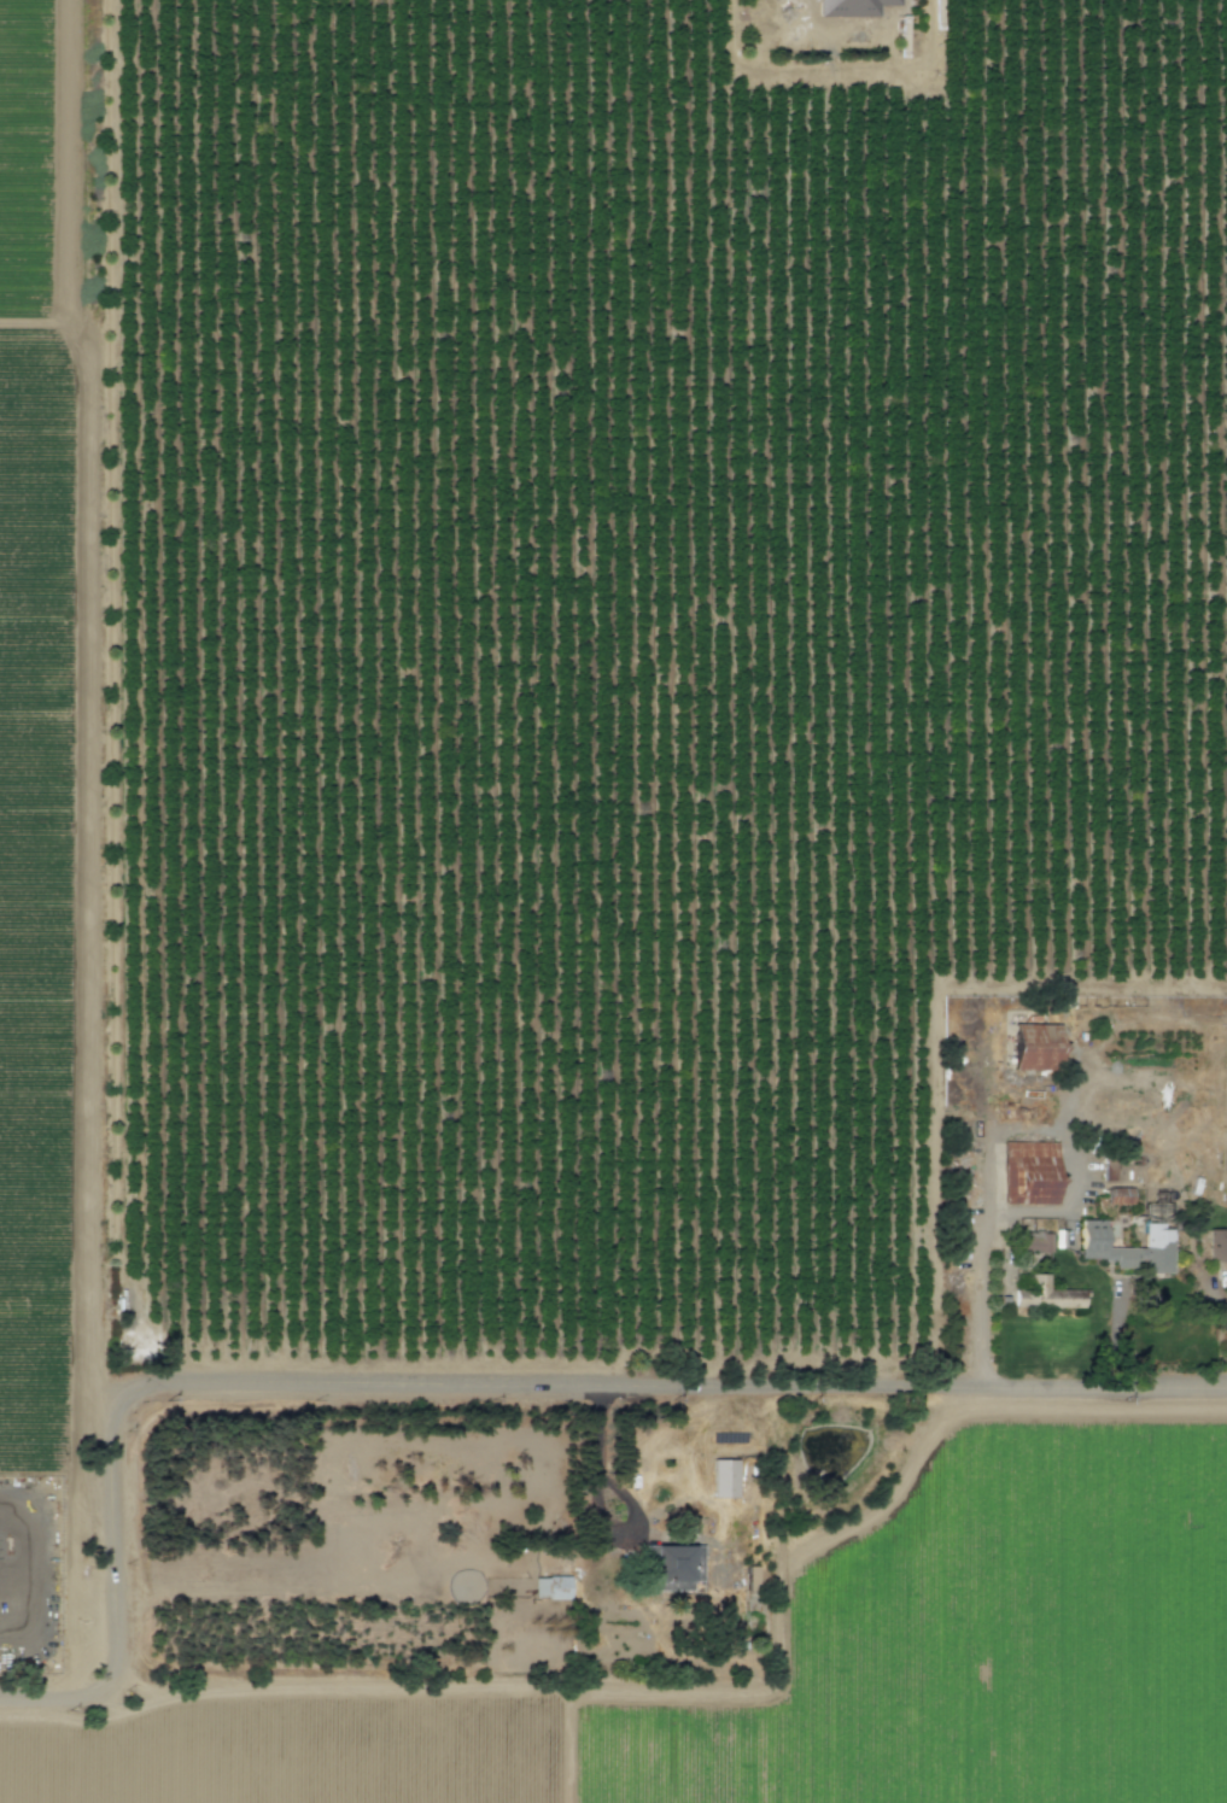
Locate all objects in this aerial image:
building: (837, 7)
building: (1038, 1047)
building: (1029, 1171)
building: (1109, 1172)
building: (1159, 1239)
road: (984, 1241)
building: (1035, 1242)
building: (1217, 1245)
road: (1213, 1290)
building: (1047, 1295)
road: (467, 1385)
building: (725, 1480)
road: (598, 1497)
building: (677, 1568)
building: (752, 1579)
building: (553, 1588)

